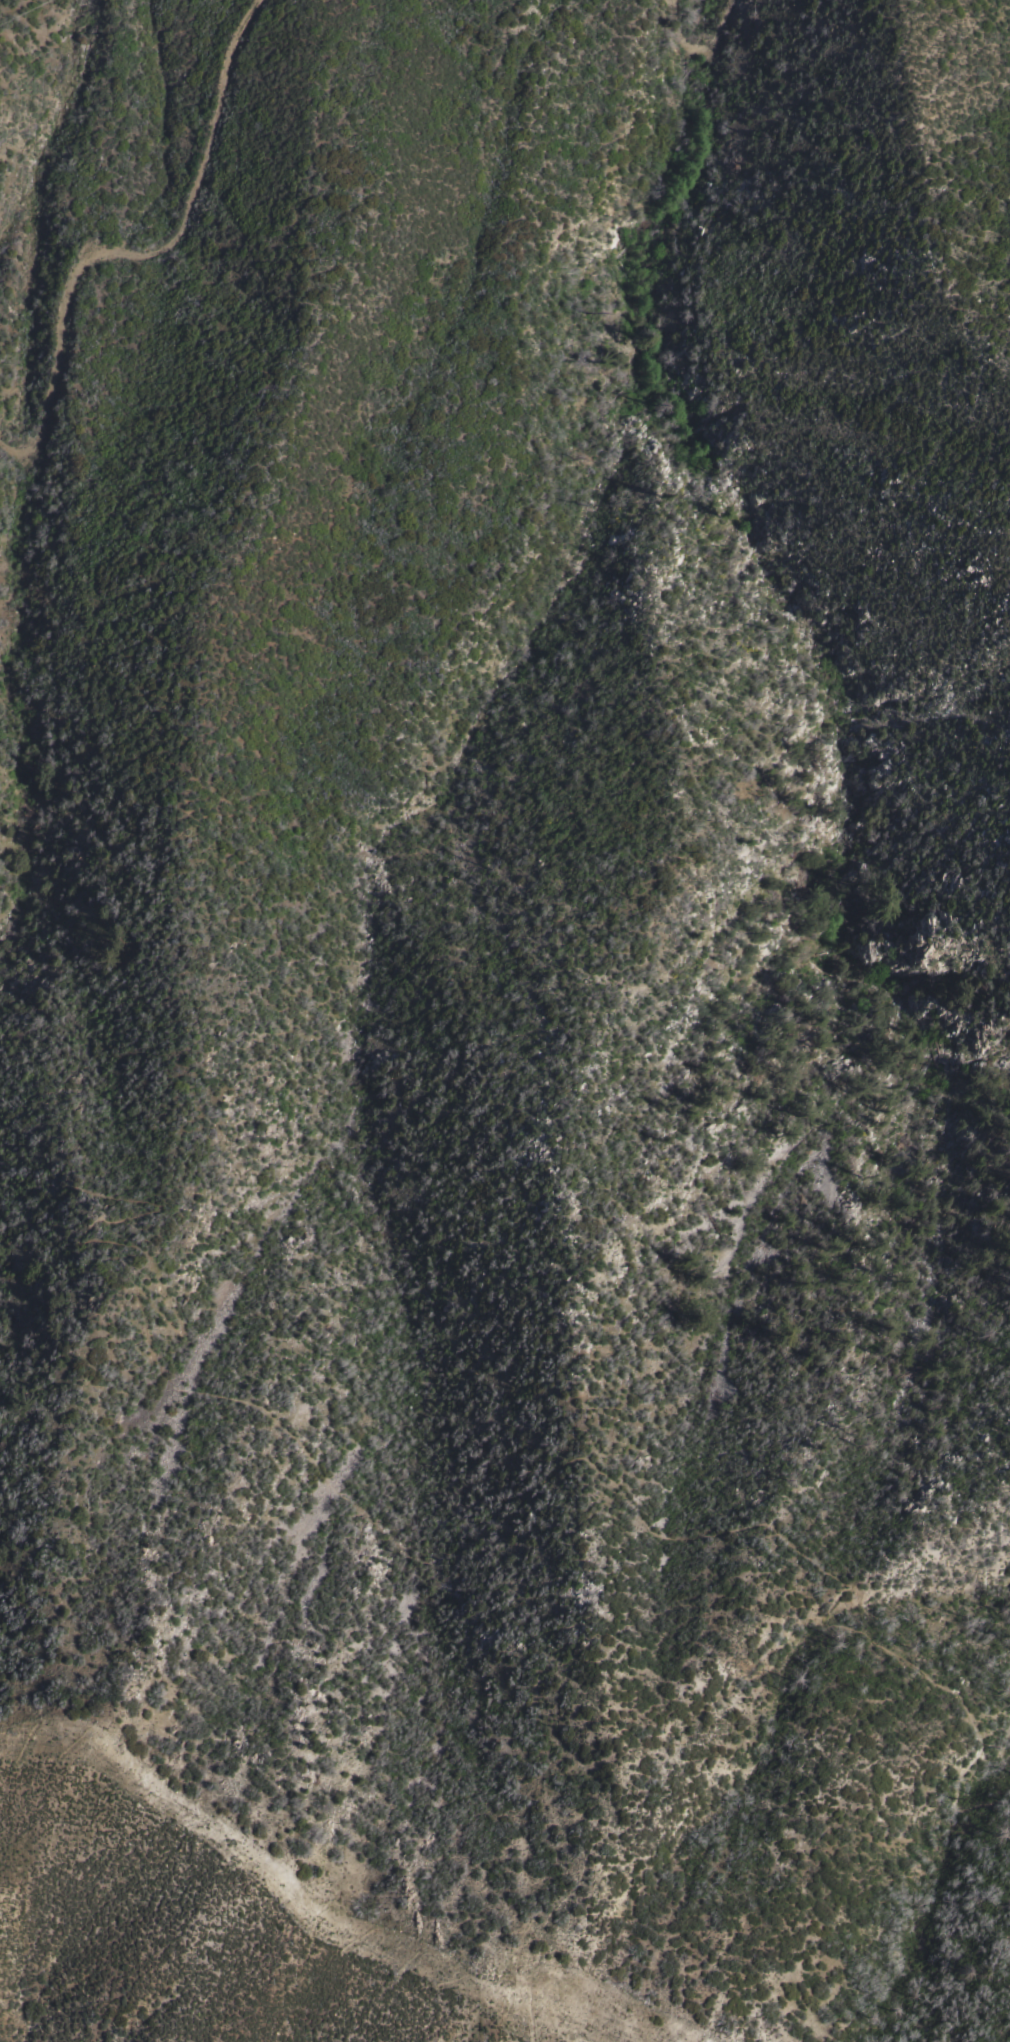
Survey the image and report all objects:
road: (699, 47)
road: (139, 255)
road: (424, 1560)

